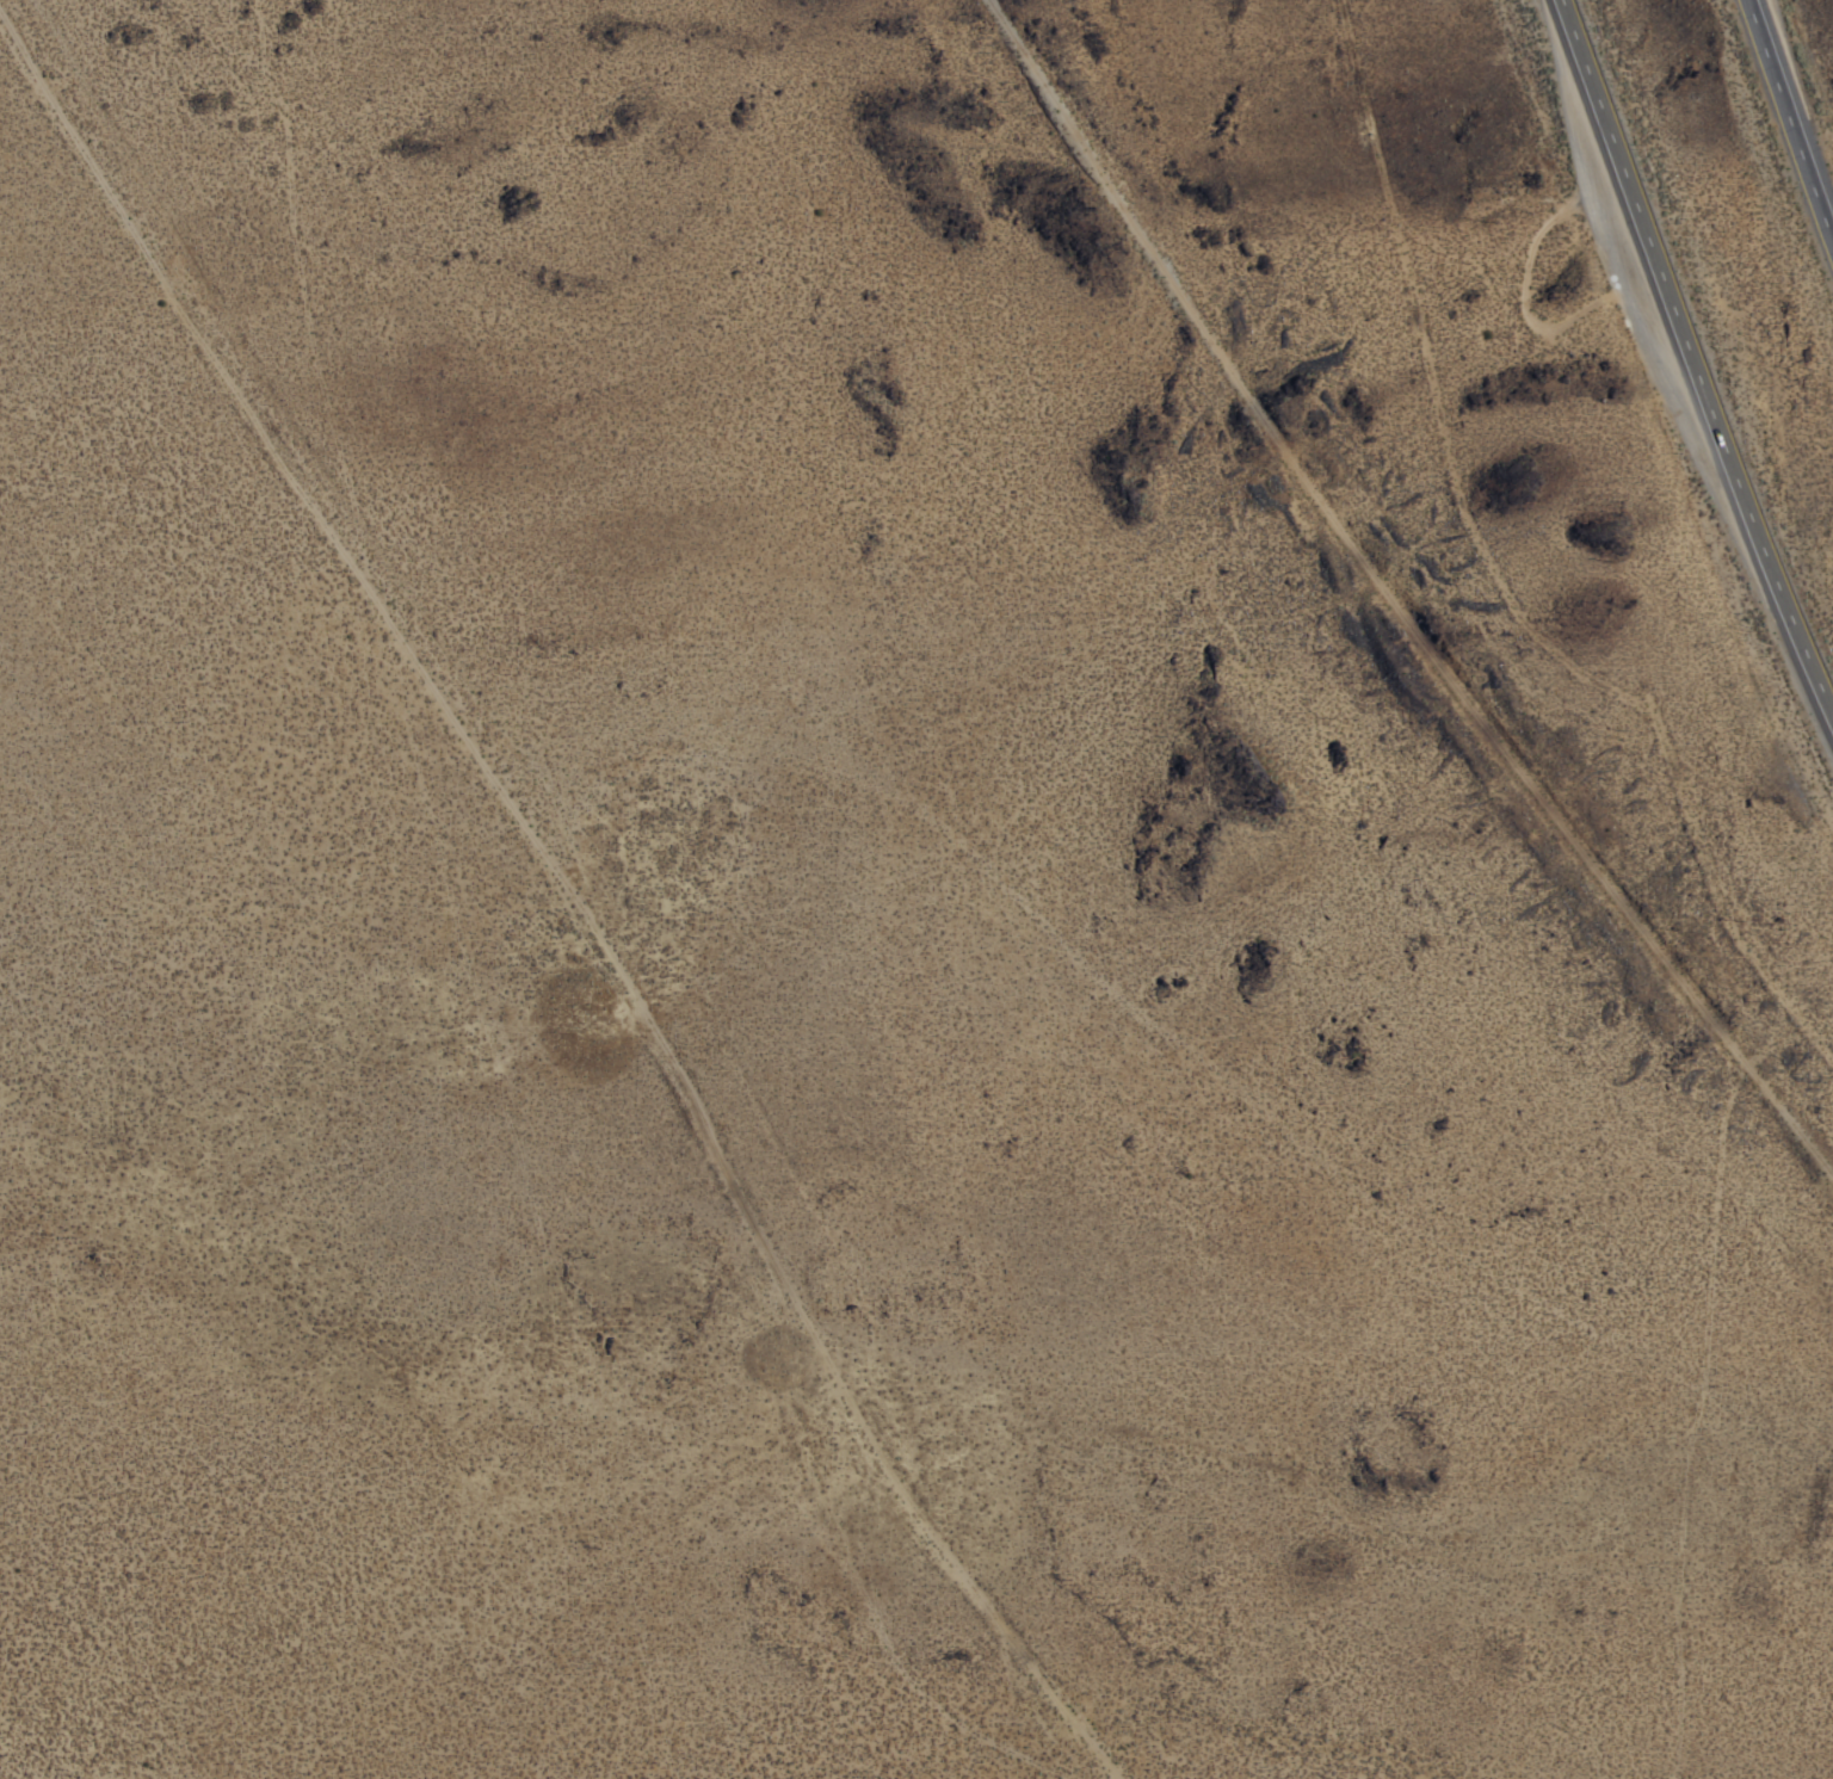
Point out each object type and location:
road: (1790, 115)
road: (1695, 365)
road: (354, 535)
road: (888, 1440)

